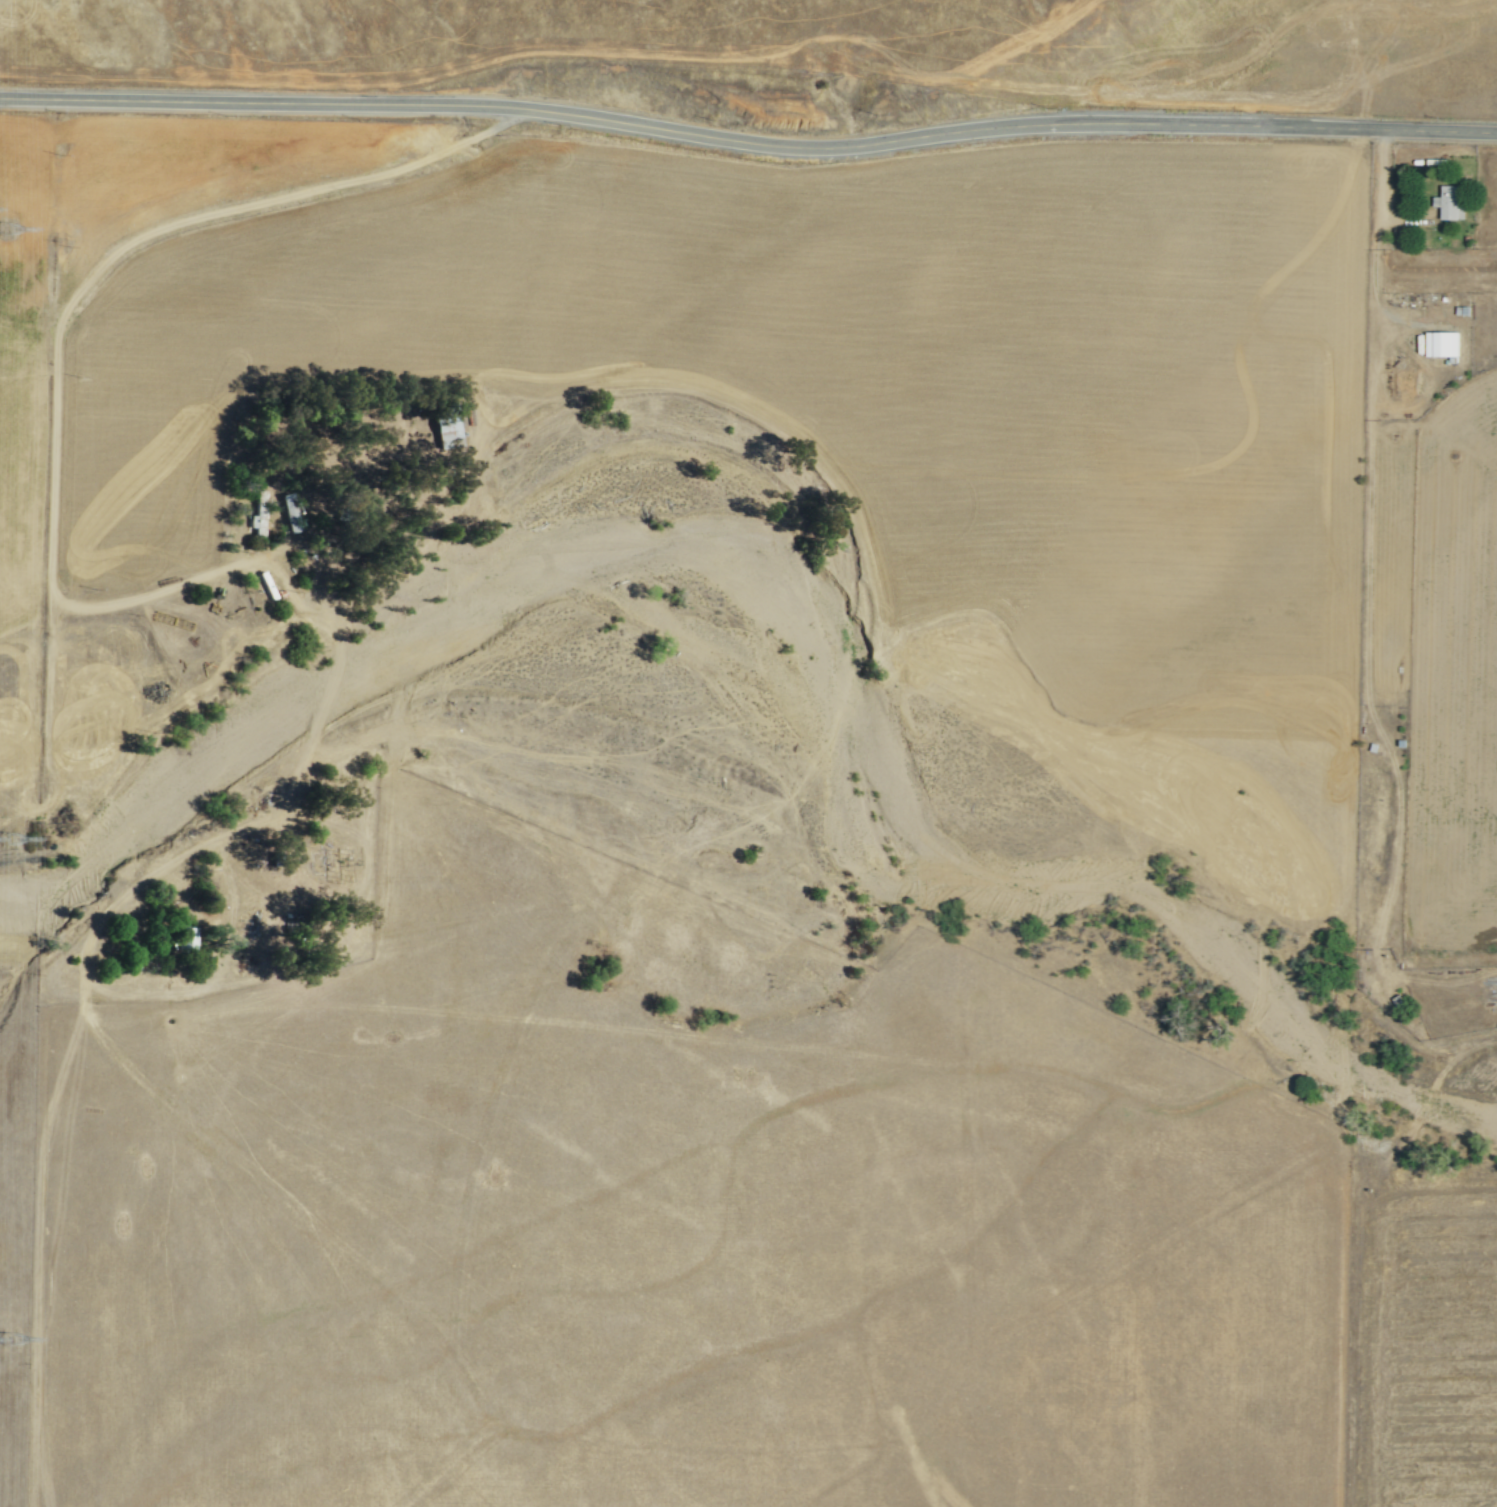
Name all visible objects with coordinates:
road: (748, 140)
building: (1452, 203)
power tower: (4, 229)
road: (1375, 254)
road: (57, 344)
building: (1442, 344)
building: (447, 432)
building: (288, 513)
building: (257, 515)
river: (803, 629)
crop: (1454, 678)
road: (1368, 696)
road: (274, 814)
power tower: (9, 841)
road: (313, 967)
road: (1438, 994)
road: (1358, 1242)
road: (37, 1256)
power tower: (10, 1340)
crop: (1422, 1347)

